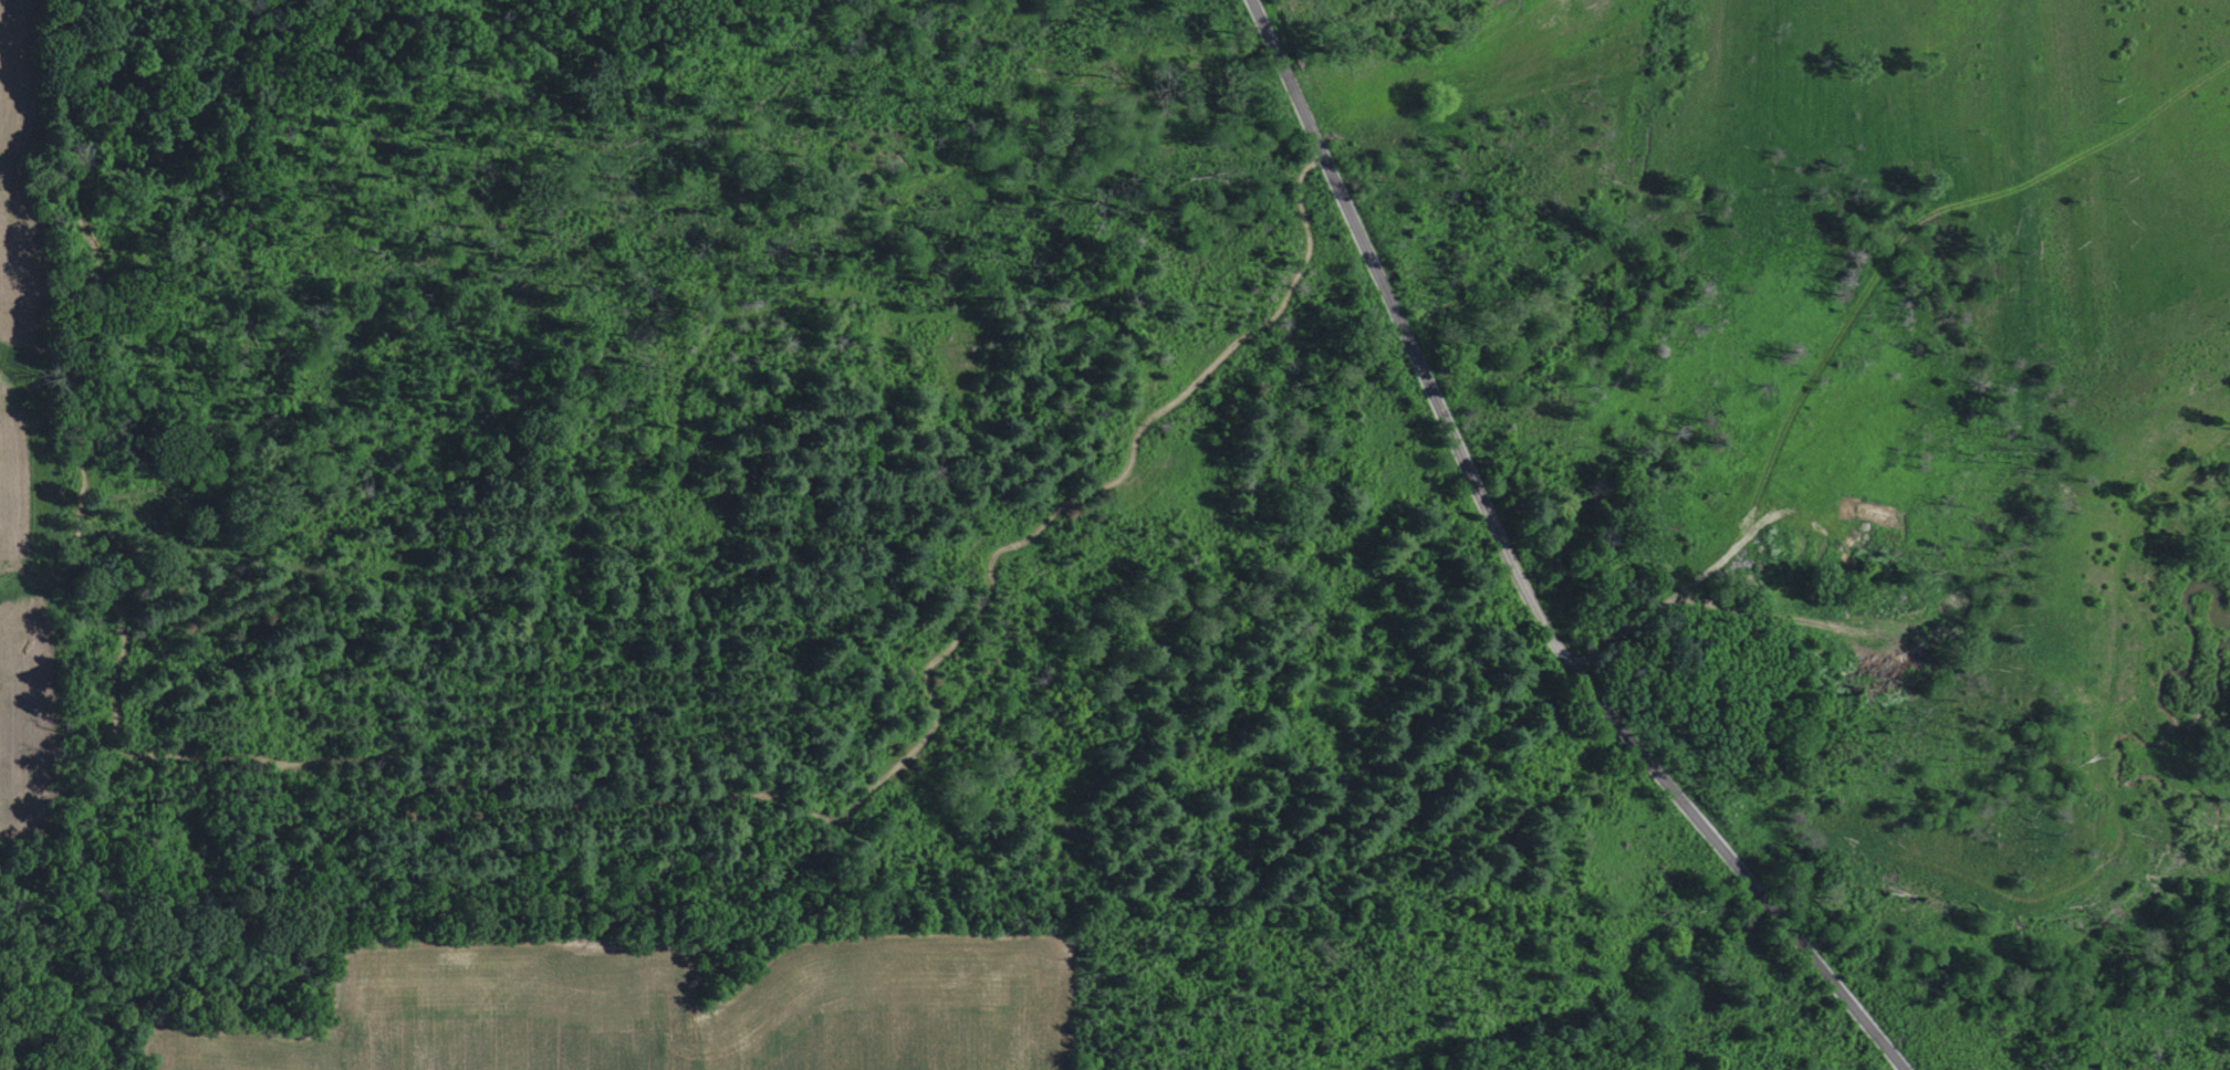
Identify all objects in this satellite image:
road: (1914, 222)
road: (1045, 516)
road: (1513, 573)
road: (1697, 576)
road: (1763, 613)

